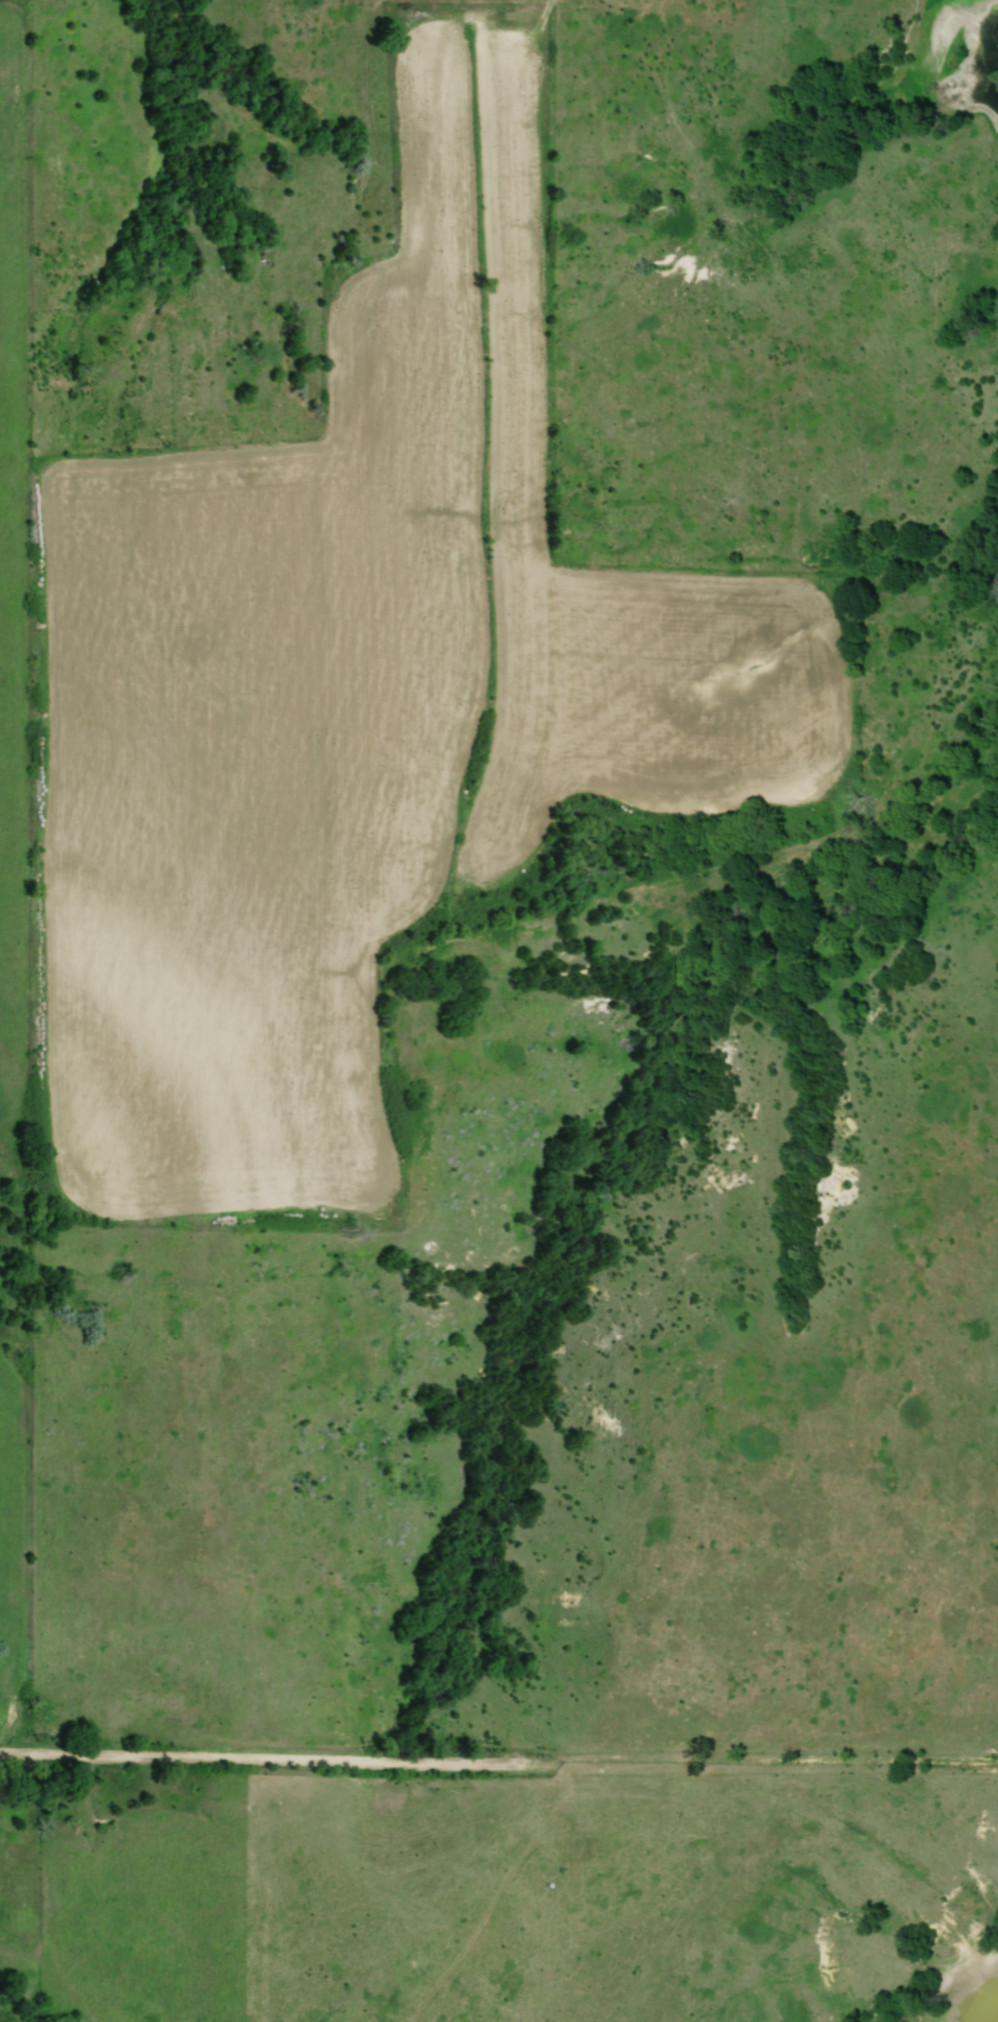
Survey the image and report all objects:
road: (499, 1761)

